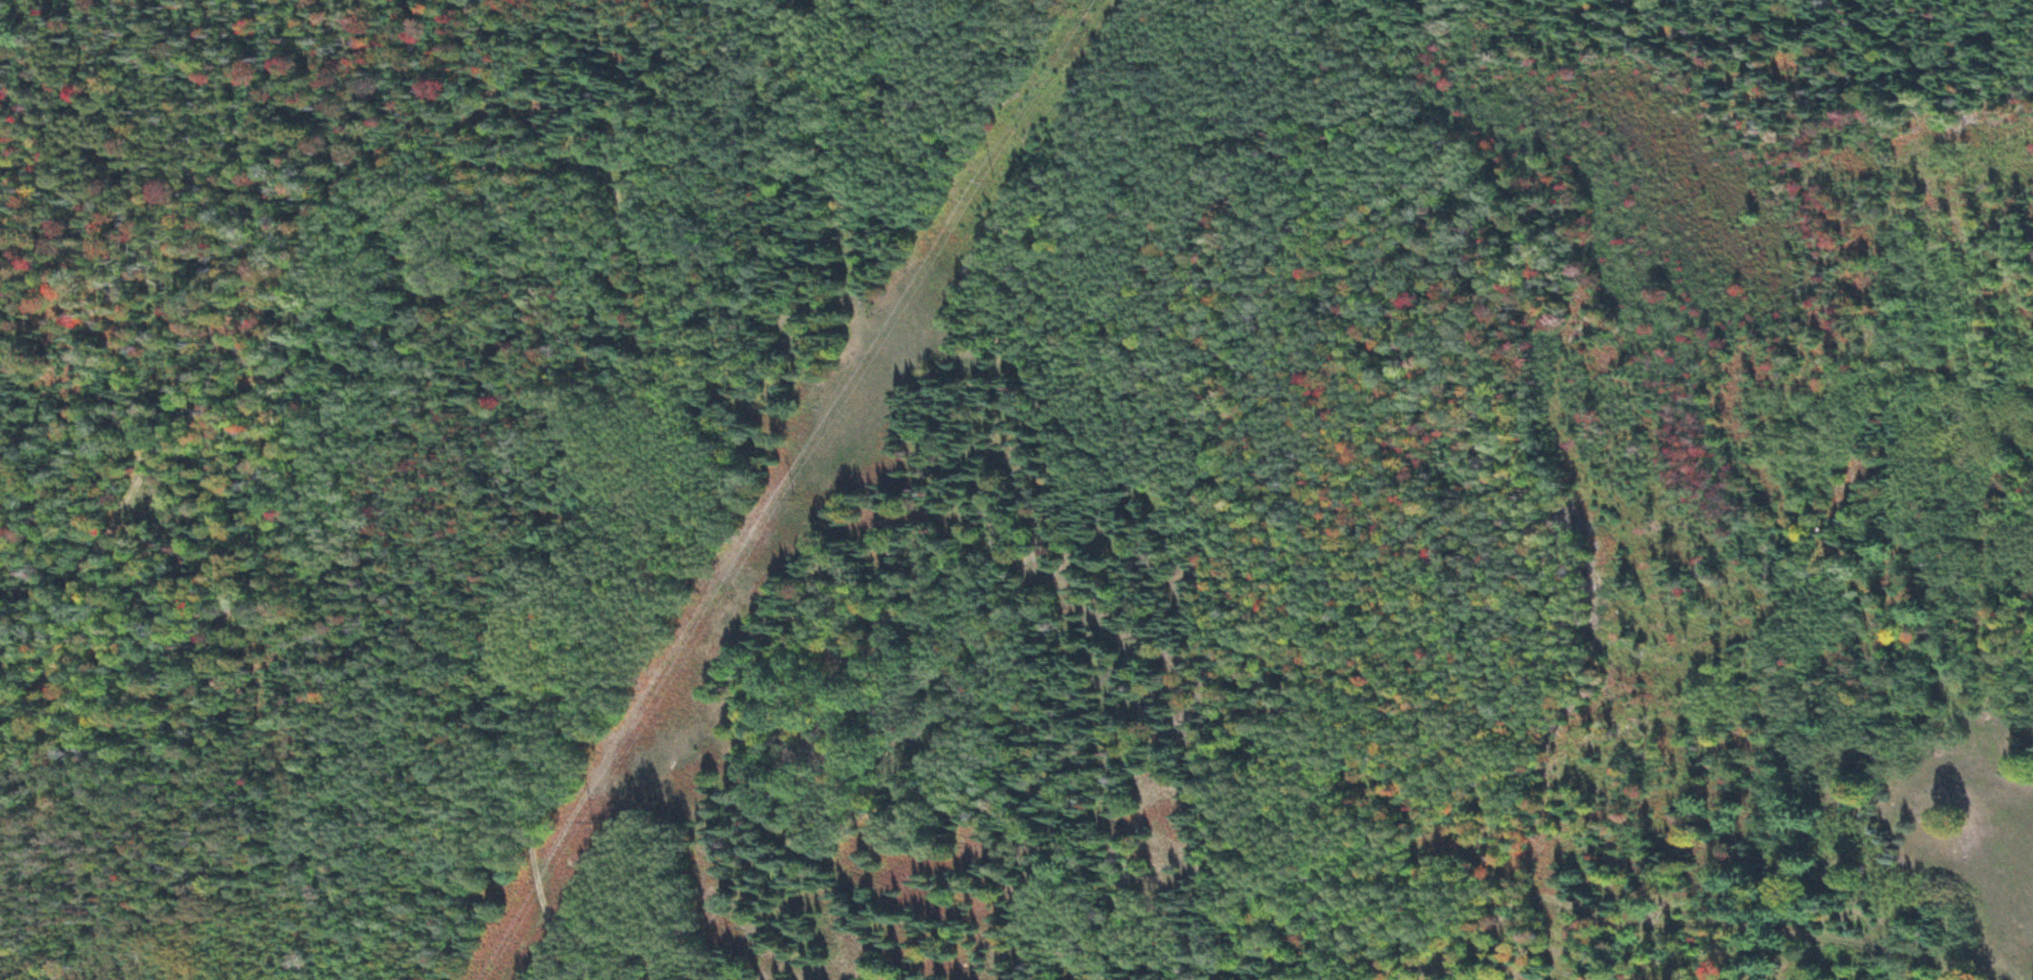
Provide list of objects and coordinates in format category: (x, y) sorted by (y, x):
road: (667, 68)
road: (320, 367)
road: (613, 584)
road: (2032, 967)

